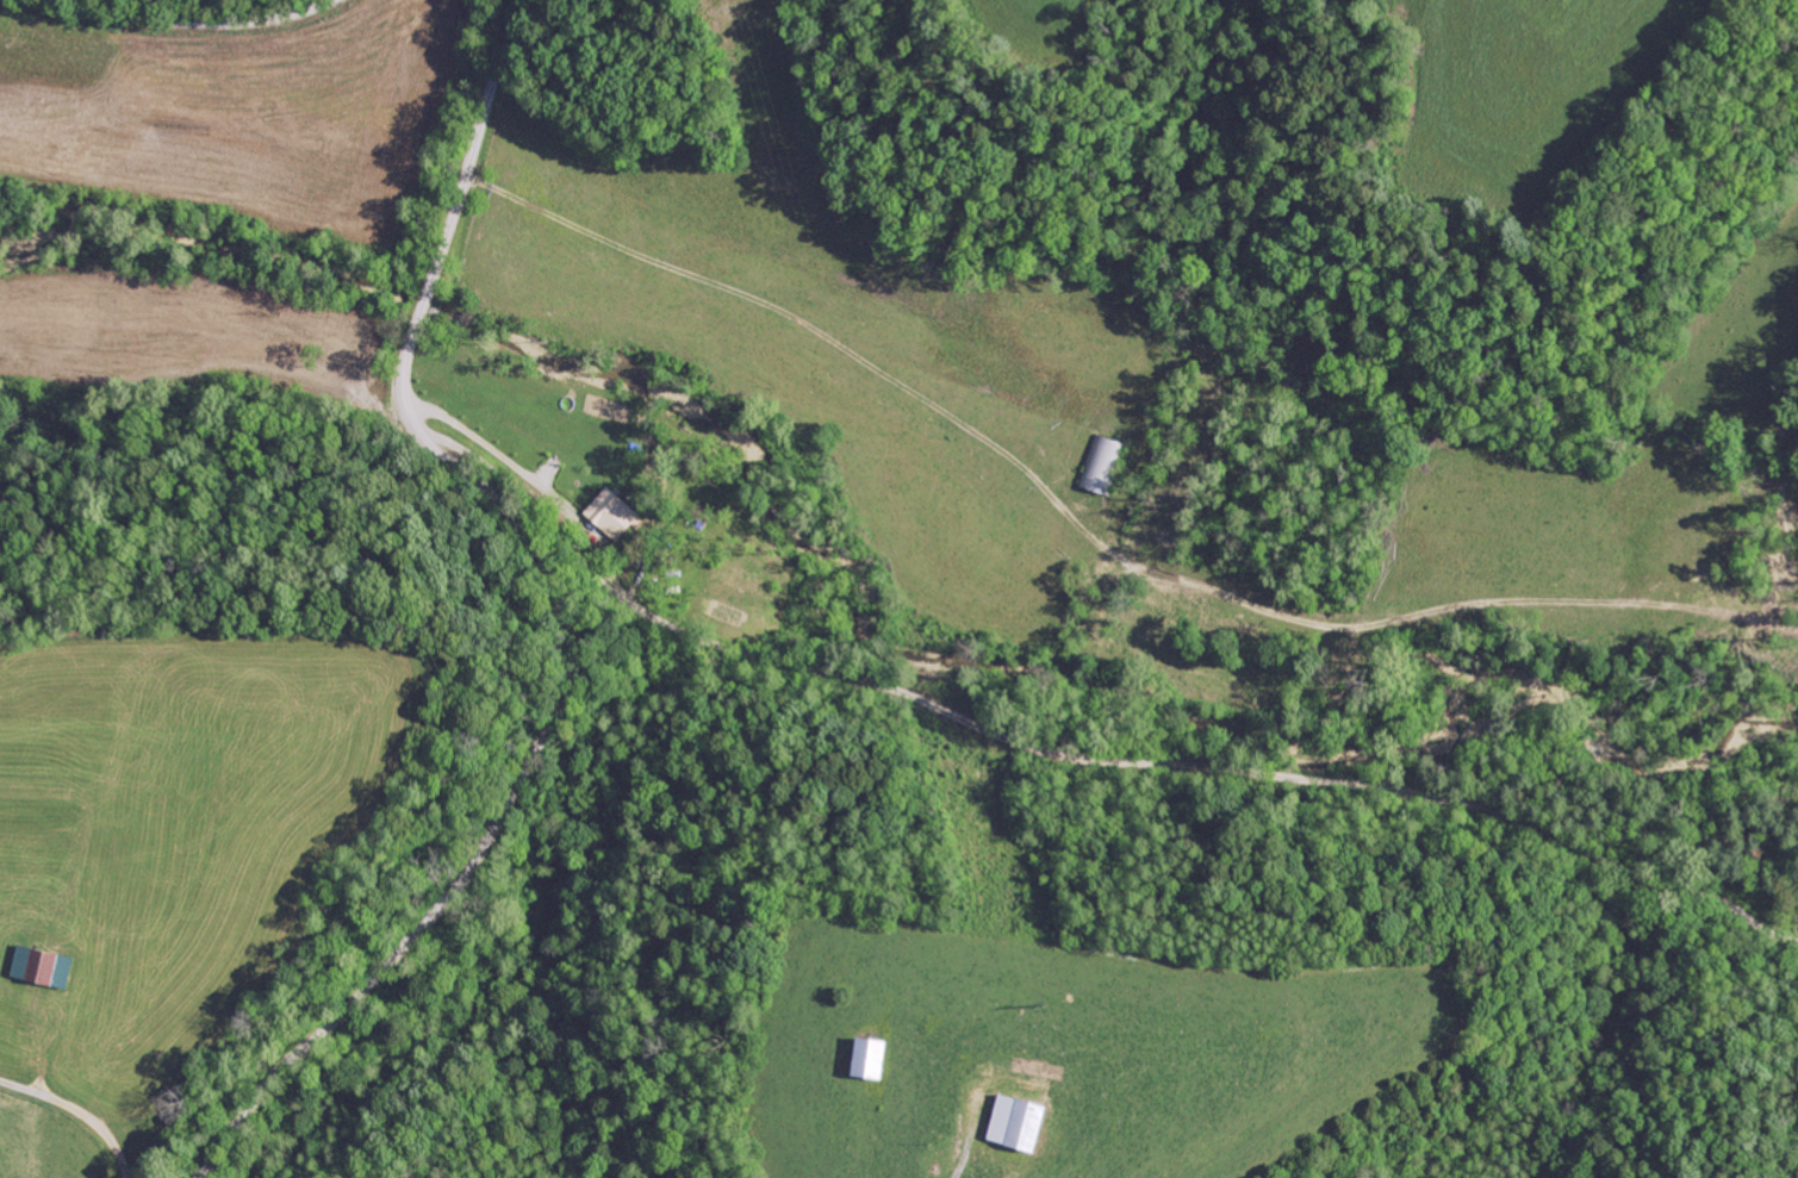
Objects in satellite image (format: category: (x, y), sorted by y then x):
road: (168, 24)
building: (612, 515)
road: (565, 610)
road: (1028, 760)
building: (43, 965)
building: (875, 1058)
building: (1022, 1122)
road: (89, 1126)

